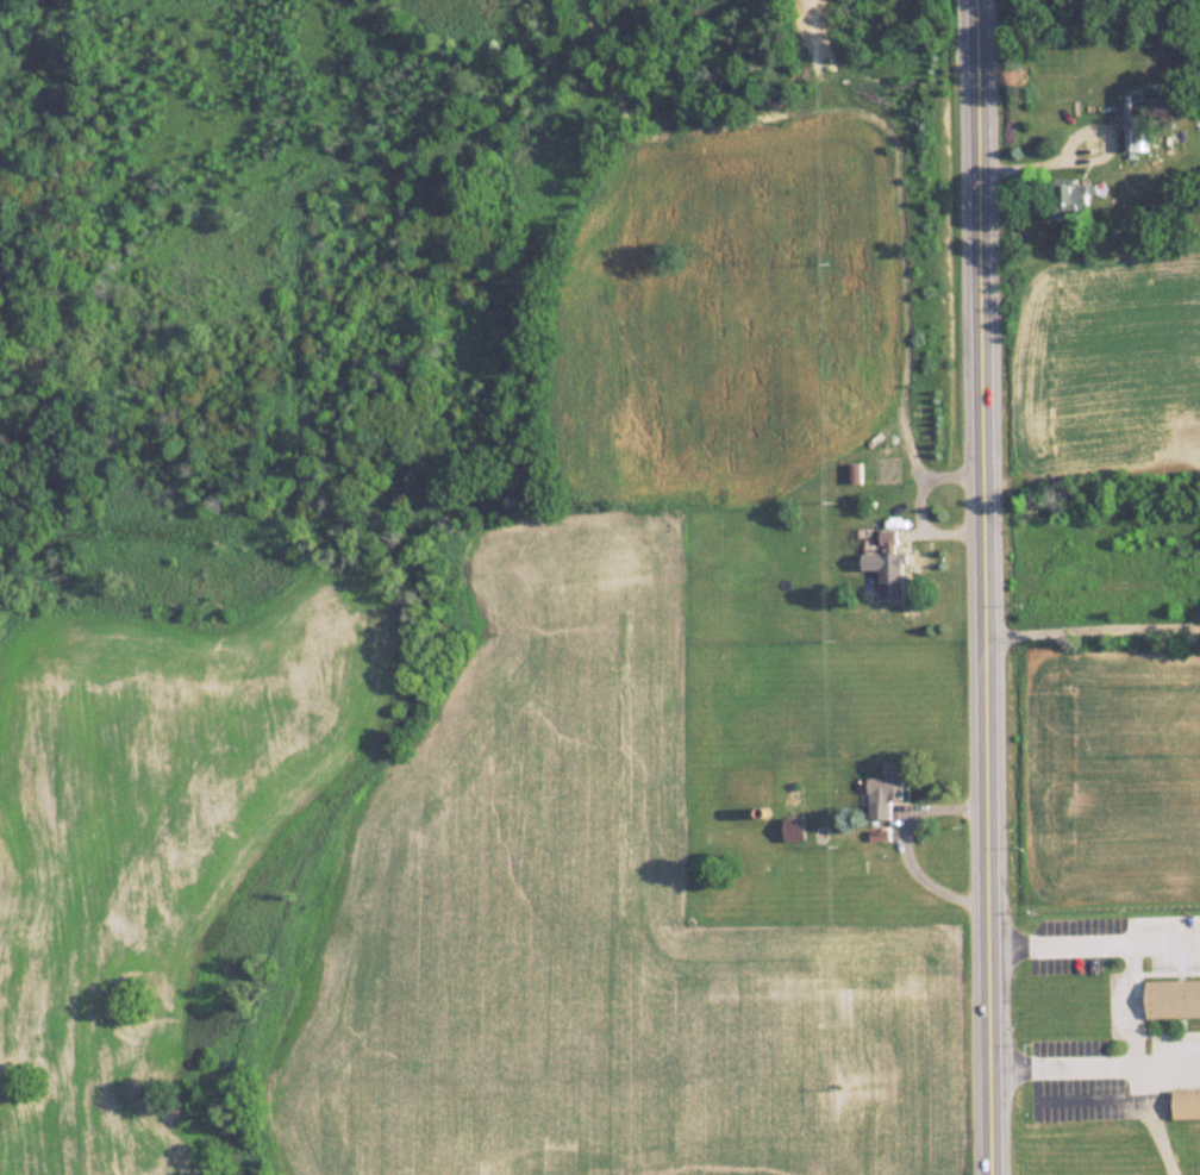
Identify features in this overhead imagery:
building: (1145, 117)
road: (1076, 136)
building: (1074, 199)
building: (885, 554)
road: (987, 587)
road: (1093, 627)
building: (750, 785)
building: (887, 788)
road: (906, 846)
road: (1132, 993)
building: (1173, 998)
road: (1096, 1070)
building: (1187, 1104)

